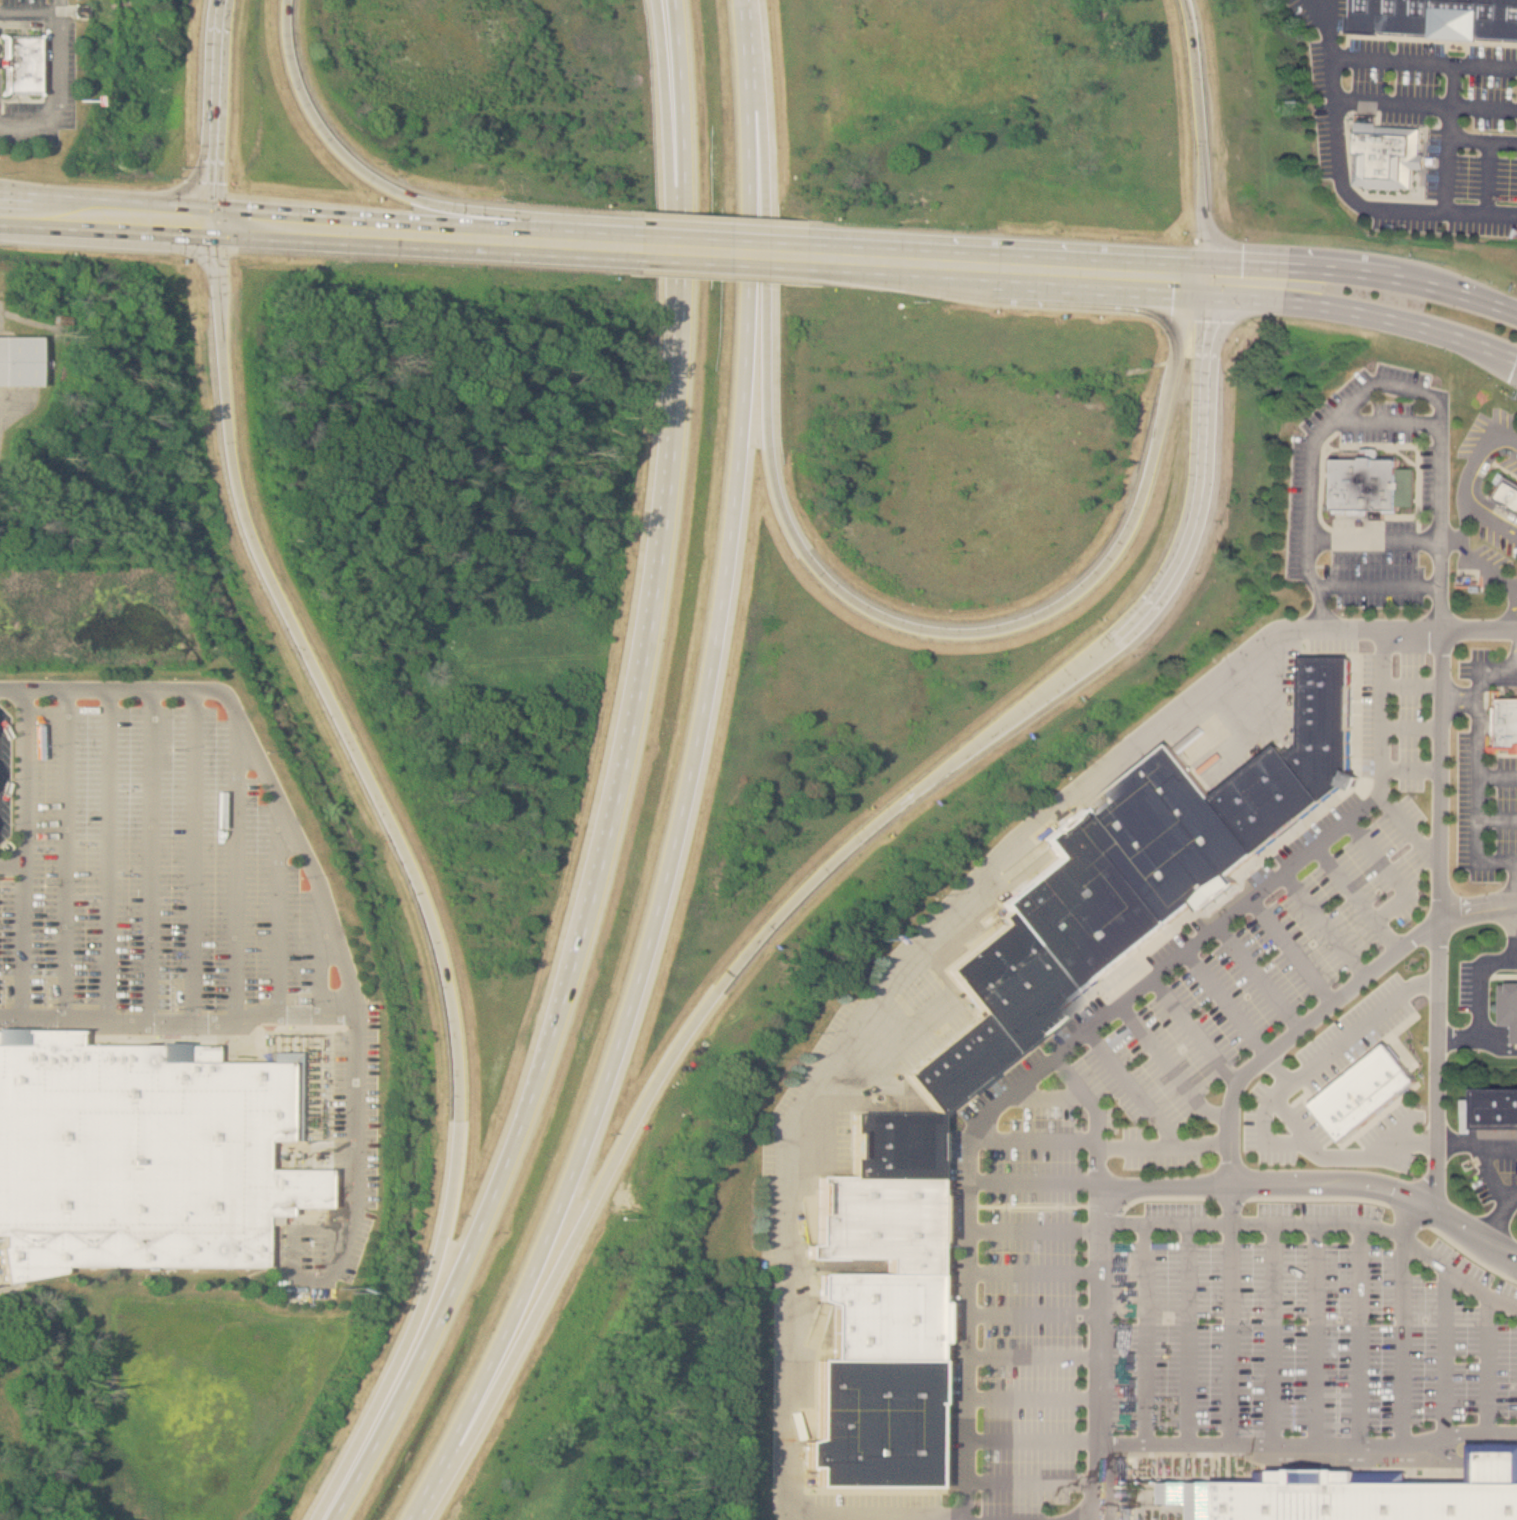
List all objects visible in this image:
road: (1317, 15)
road: (1350, 17)
building: (1435, 17)
road: (1338, 31)
road: (1431, 39)
road: (1345, 44)
road: (1443, 52)
road: (1465, 53)
road: (1422, 62)
building: (19, 64)
road: (56, 88)
road: (212, 101)
road: (1390, 103)
road: (1483, 107)
parking lot: (1425, 116)
road: (1196, 130)
road: (1447, 138)
road: (1482, 140)
road: (668, 141)
building: (1385, 155)
road: (1485, 177)
road: (381, 182)
road: (1340, 185)
road: (105, 197)
traffic signals: (210, 204)
road: (402, 217)
road: (209, 218)
road: (104, 226)
road: (615, 232)
traffic signals: (209, 233)
road: (718, 238)
road: (421, 244)
road: (1006, 252)
road: (717, 260)
road: (1366, 272)
road: (968, 276)
road: (1211, 276)
road: (1173, 288)
road: (1366, 309)
building: (17, 358)
road: (1384, 421)
road: (1478, 453)
road: (1307, 458)
parking lot: (1303, 483)
building: (1363, 483)
building: (1506, 494)
parking lot: (1471, 510)
road: (1439, 512)
road: (1490, 519)
road: (1371, 536)
road: (1464, 540)
road: (1491, 569)
road: (1378, 586)
road: (847, 596)
road: (1479, 626)
road: (1379, 628)
road: (1516, 652)
parking lot: (1486, 667)
road: (1516, 667)
road: (1483, 670)
building: (1503, 725)
road: (1476, 736)
road: (687, 784)
road: (621, 786)
parking lot: (1481, 812)
road: (1496, 814)
road: (1410, 831)
road: (1474, 832)
road: (22, 851)
road: (67, 851)
road: (109, 851)
road: (151, 851)
road: (195, 851)
road: (1380, 858)
building: (1131, 862)
road: (242, 870)
road: (410, 873)
road: (321, 879)
road: (813, 879)
road: (1516, 887)
road: (1360, 896)
road: (282, 909)
road: (1440, 916)
road: (1326, 923)
road: (1292, 951)
road: (1261, 974)
road: (888, 977)
road: (1480, 981)
parking lot: (1462, 987)
road: (1229, 1000)
building: (1509, 1007)
road: (1328, 1008)
road: (217, 1015)
road: (40, 1016)
road: (1197, 1027)
road: (1085, 1030)
parking lot: (1338, 1034)
road: (1459, 1035)
road: (1498, 1043)
road: (1172, 1065)
road: (1135, 1086)
building: (1365, 1092)
parking lot: (1152, 1094)
road: (1269, 1100)
building: (1495, 1109)
road: (1095, 1111)
road: (1035, 1136)
road: (1462, 1141)
road: (1502, 1142)
road: (1165, 1145)
building: (141, 1153)
road: (1035, 1178)
road: (1488, 1178)
road: (1263, 1182)
parking lot: (1491, 1184)
road: (1497, 1219)
road: (1167, 1221)
road: (1318, 1221)
road: (1036, 1229)
road: (1468, 1231)
road: (1035, 1272)
road: (1458, 1277)
building: (876, 1288)
parking lot: (1313, 1310)
road: (1034, 1313)
road: (1231, 1313)
road: (1402, 1320)
road: (1147, 1332)
road: (1192, 1332)
road: (1275, 1332)
road: (1317, 1333)
road: (1361, 1334)
road: (1443, 1353)
road: (1102, 1354)
road: (1034, 1356)
road: (1488, 1363)
river: (58, 1394)
road: (1034, 1396)
road: (1033, 1437)
road: (1310, 1444)
road: (1032, 1484)
building: (1362, 1494)
road: (868, 1508)
road: (1089, 1516)

